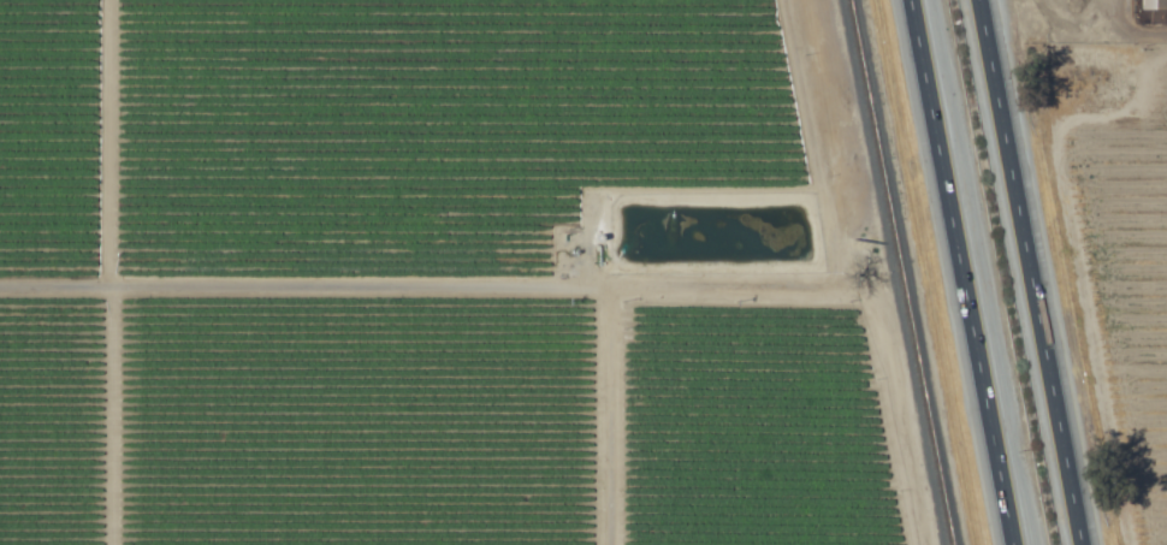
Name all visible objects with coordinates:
building: (1151, 5)
railway: (898, 272)
road: (955, 272)
road: (1026, 272)
crop: (576, 276)
road: (306, 300)

